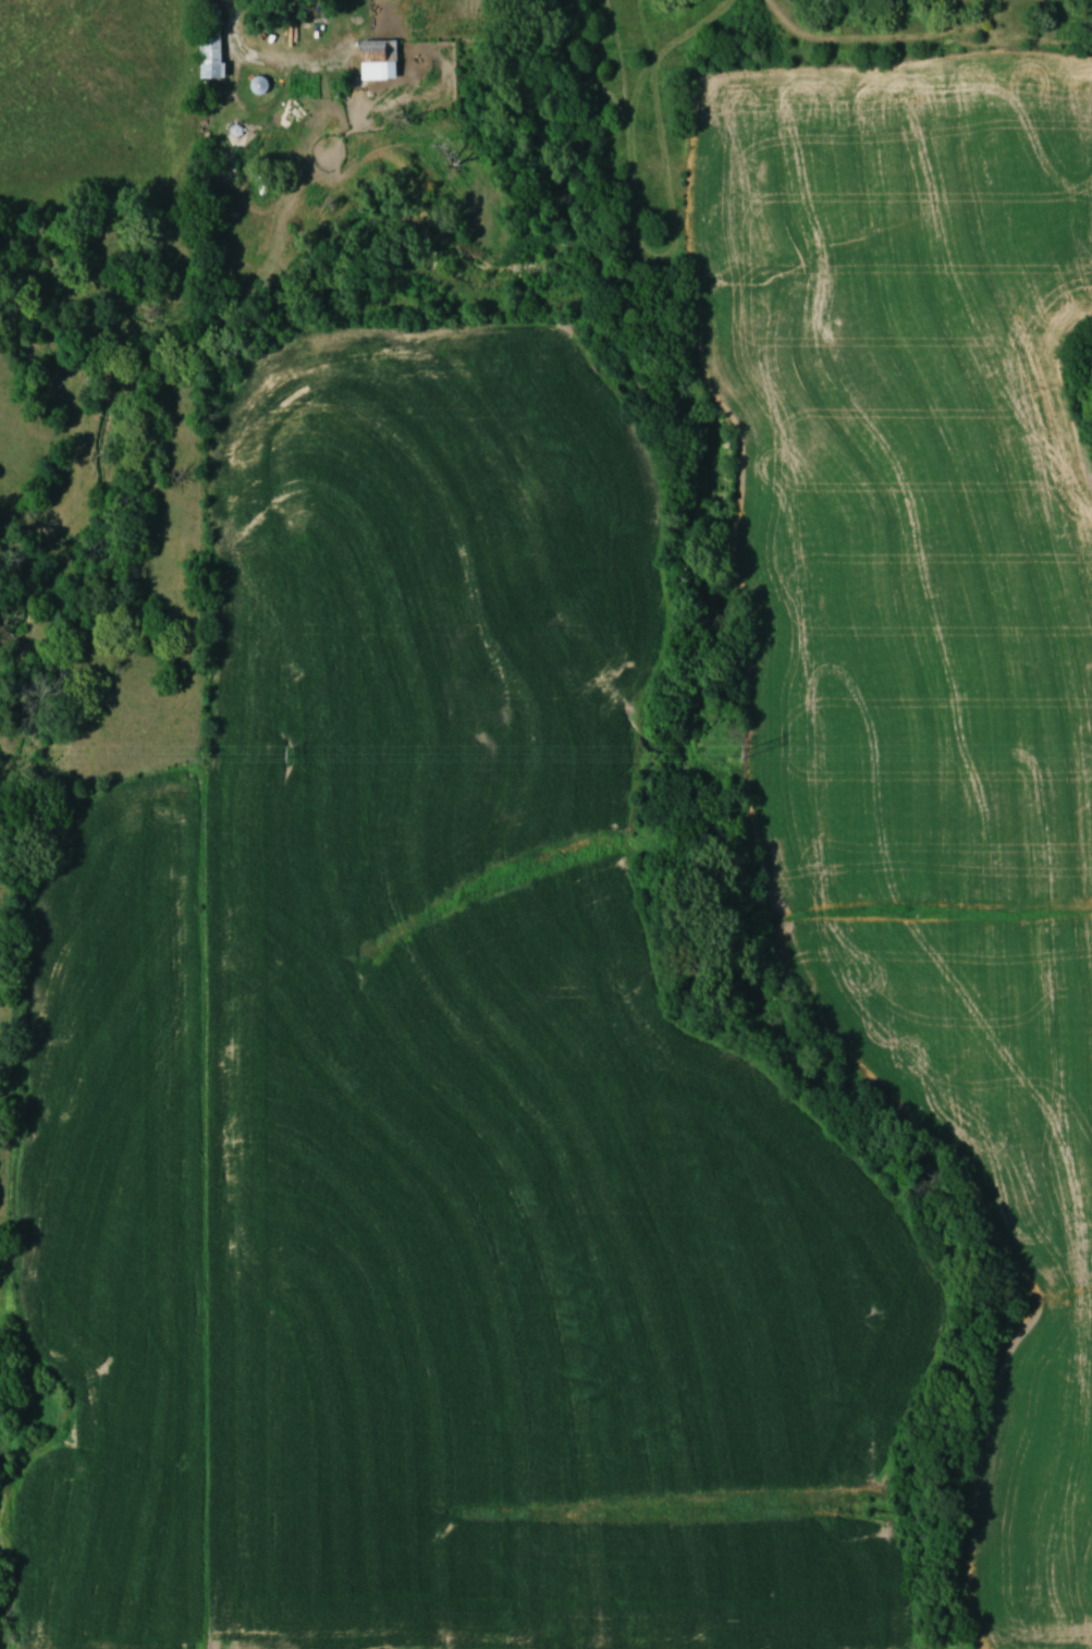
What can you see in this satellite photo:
building: (385, 60)
building: (265, 84)

